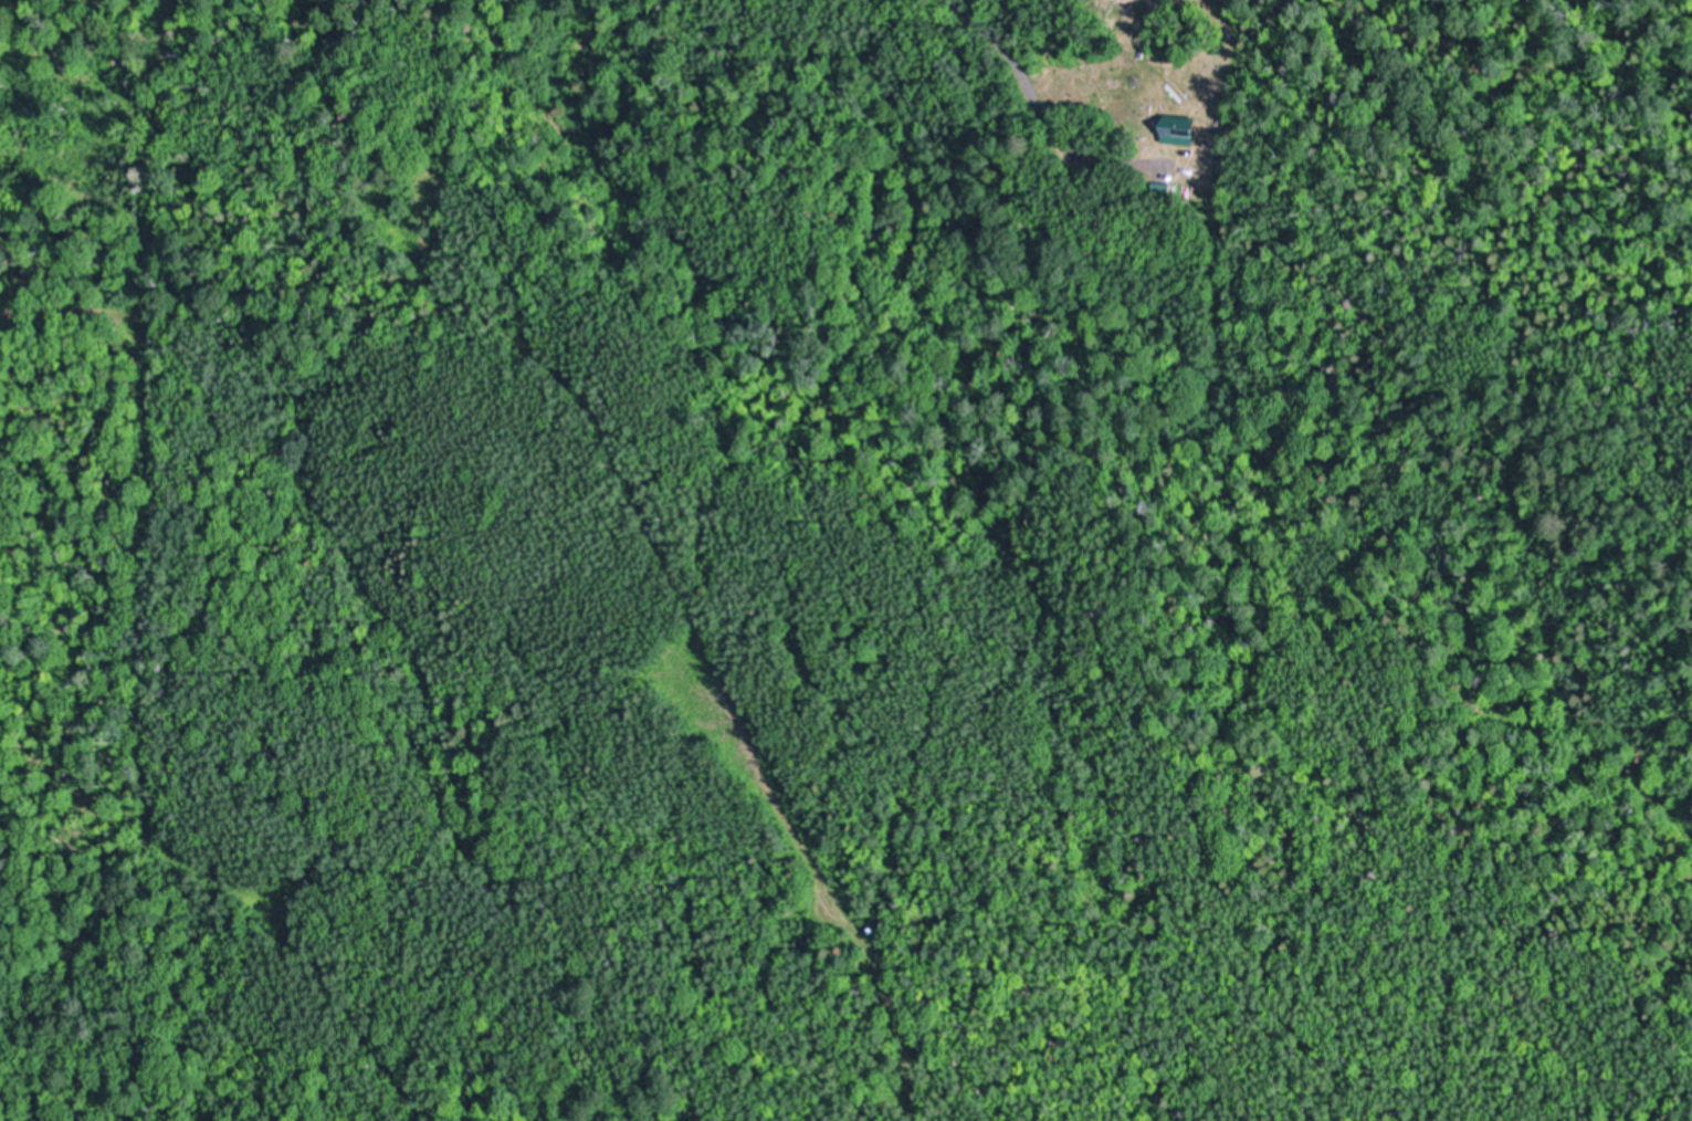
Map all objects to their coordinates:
building: (1226, 0)
building: (1179, 126)
road: (153, 159)

